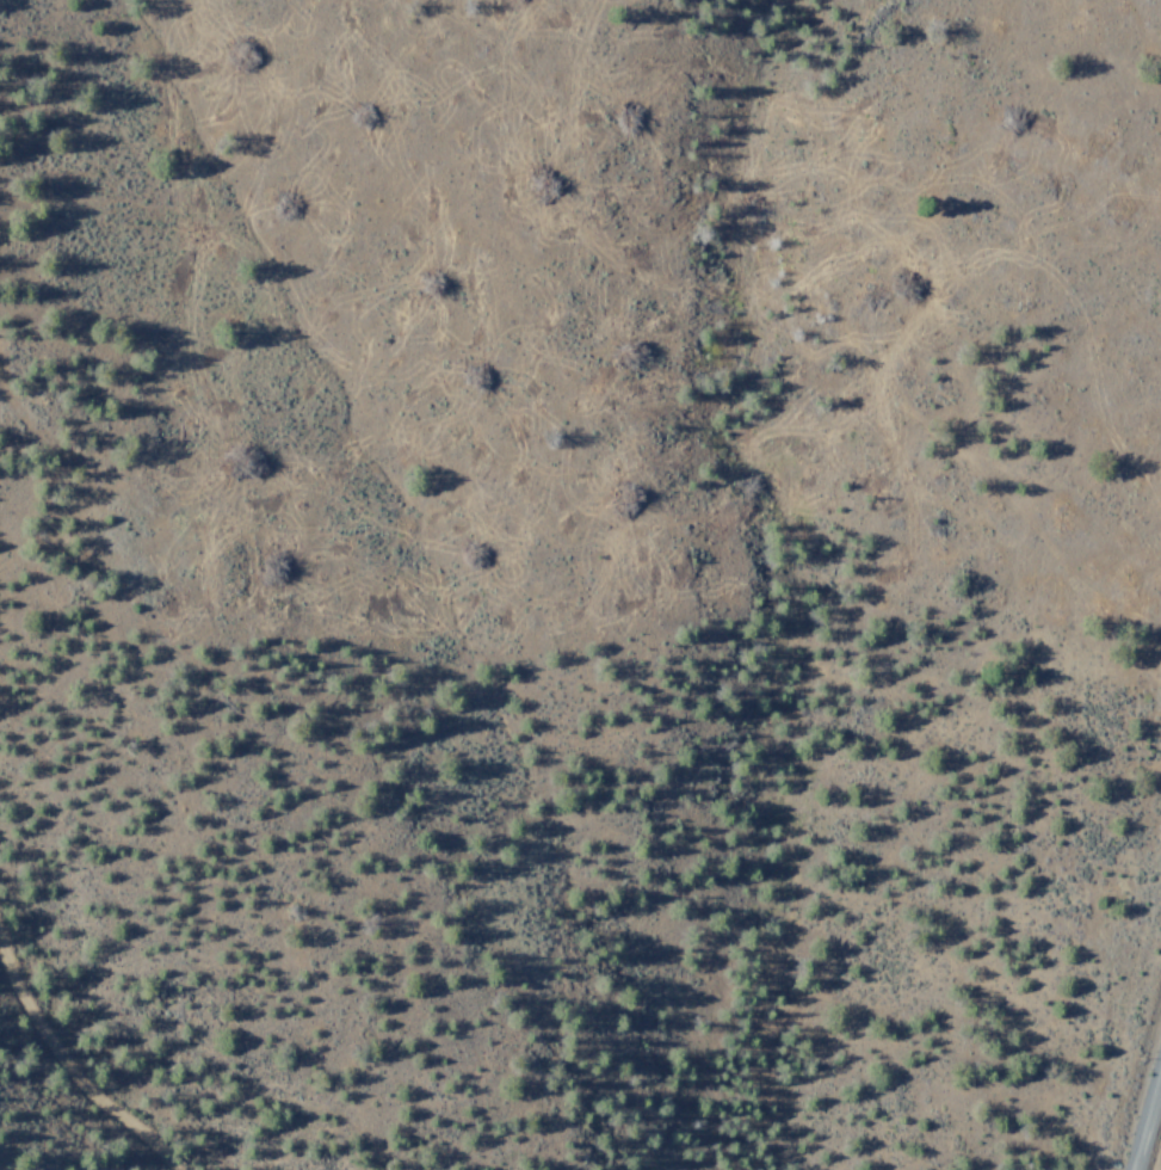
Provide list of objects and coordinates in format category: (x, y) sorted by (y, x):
road: (72, 1071)
road: (1147, 1117)

